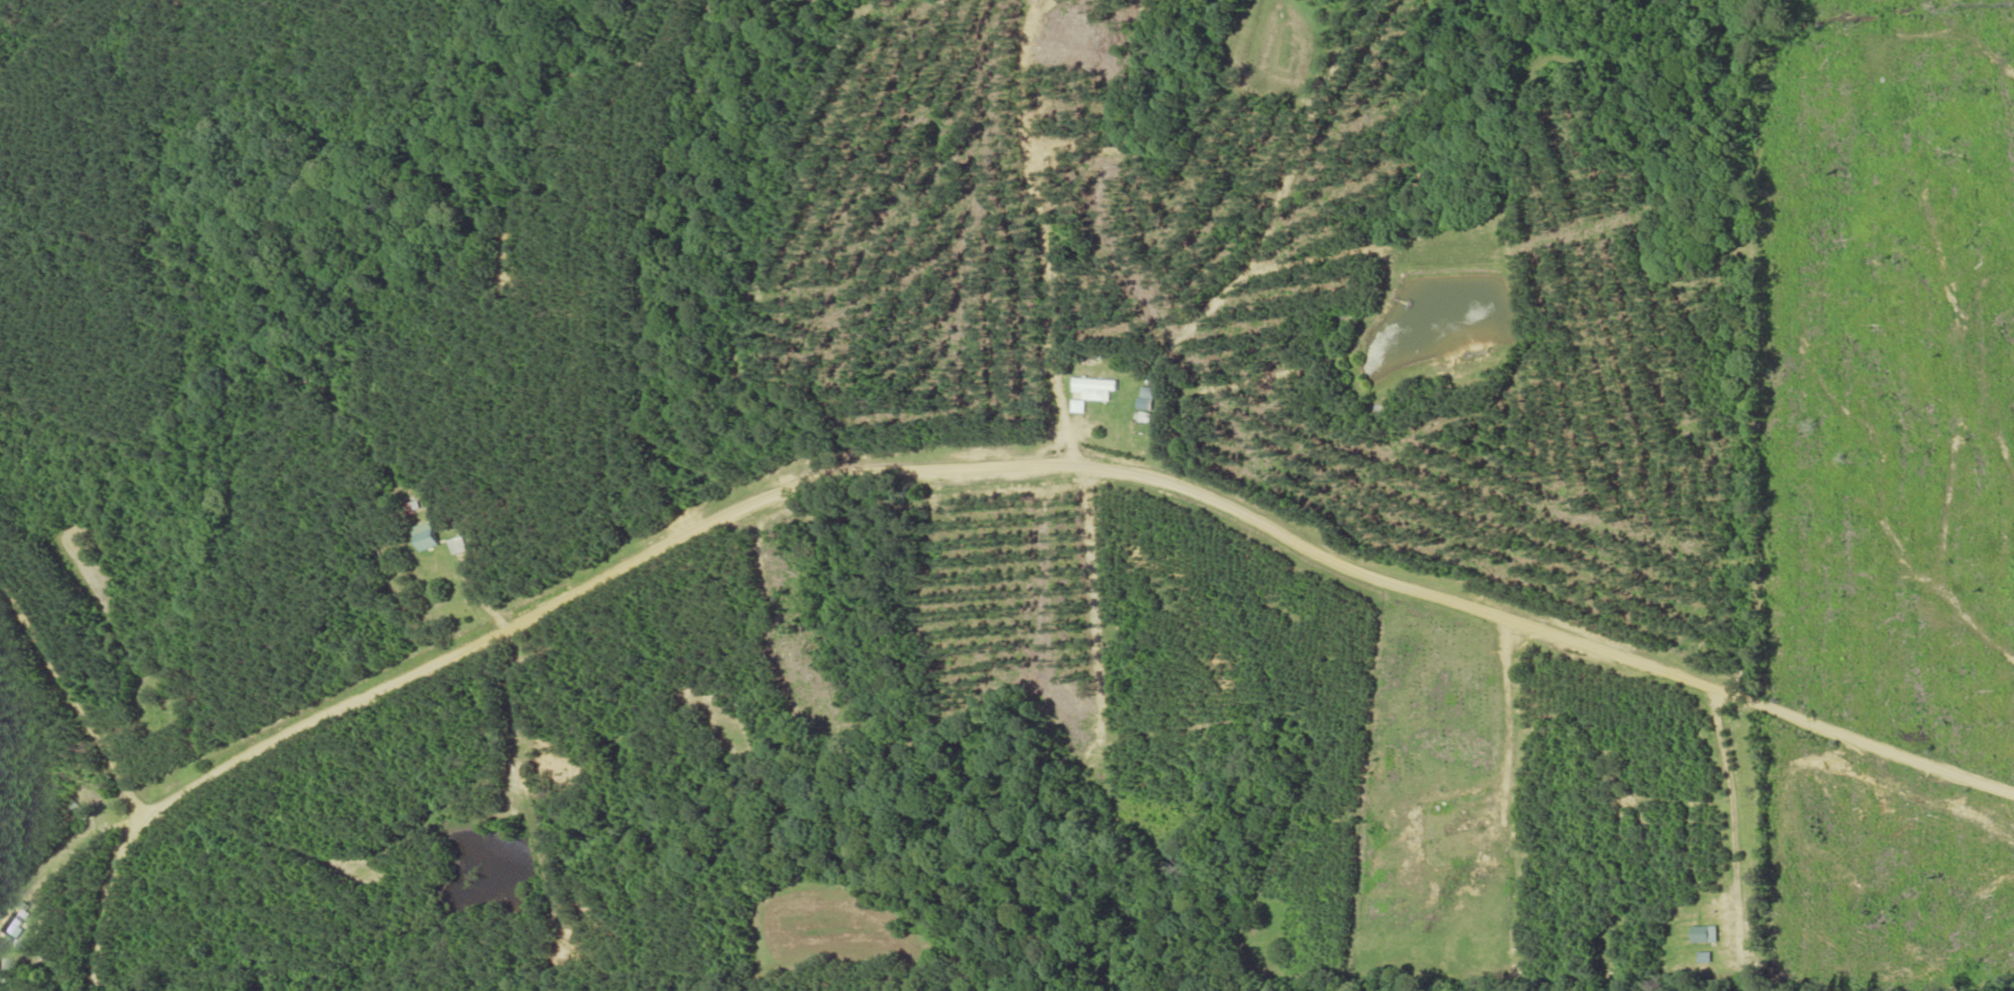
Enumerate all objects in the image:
building: (1092, 391)
building: (1147, 398)
road: (1008, 465)
building: (428, 536)
building: (461, 545)
building: (13, 926)
road: (139, 985)

